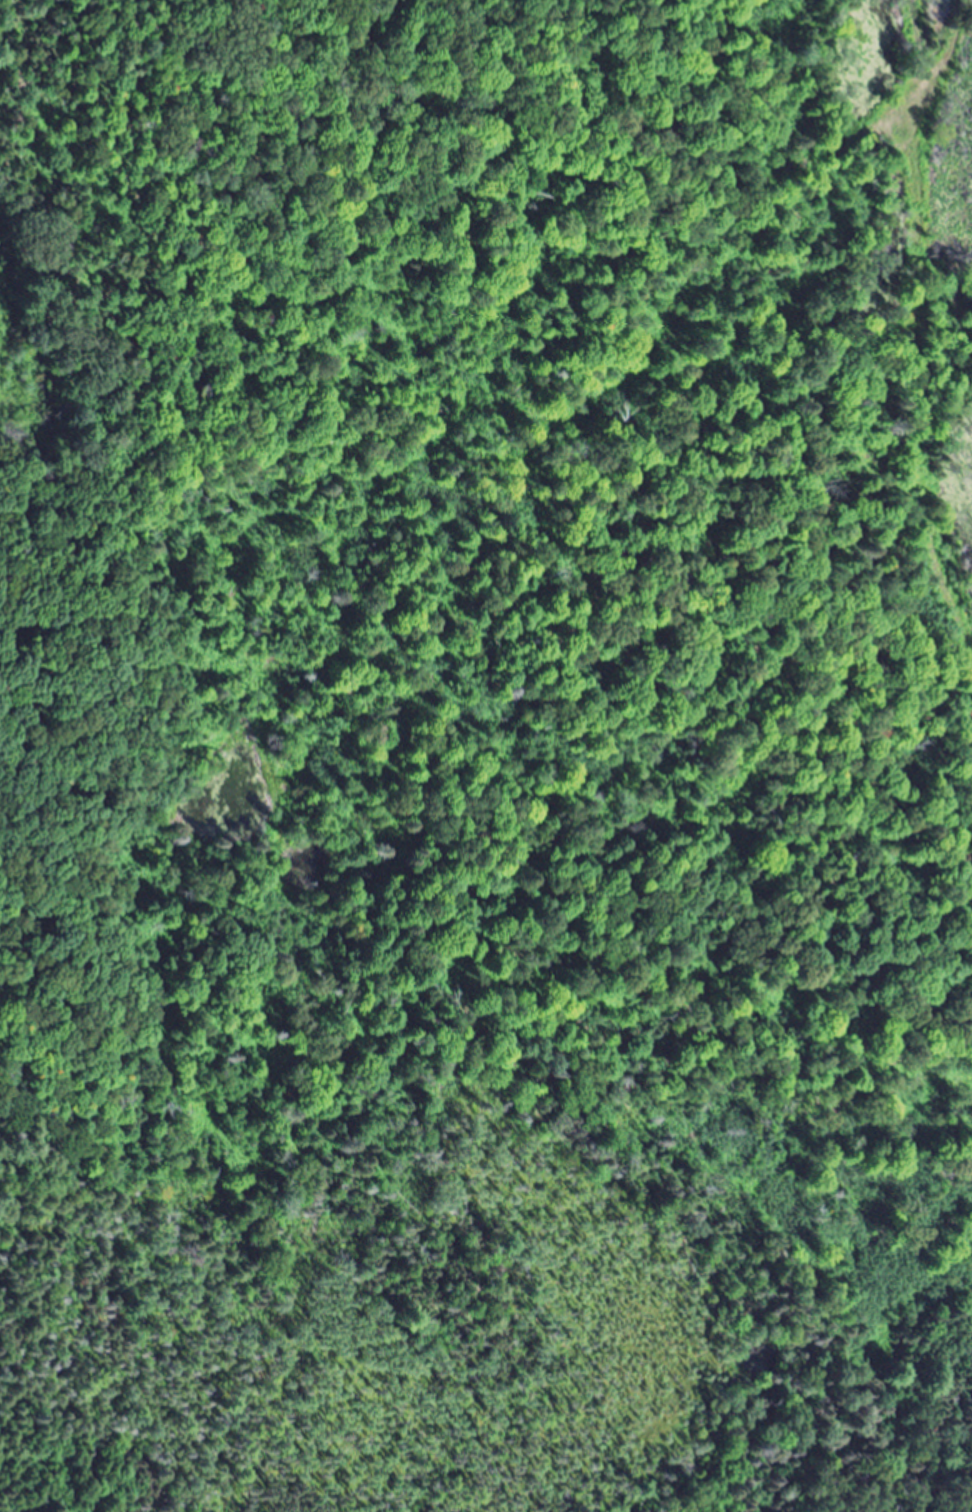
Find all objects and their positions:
road: (935, 61)

